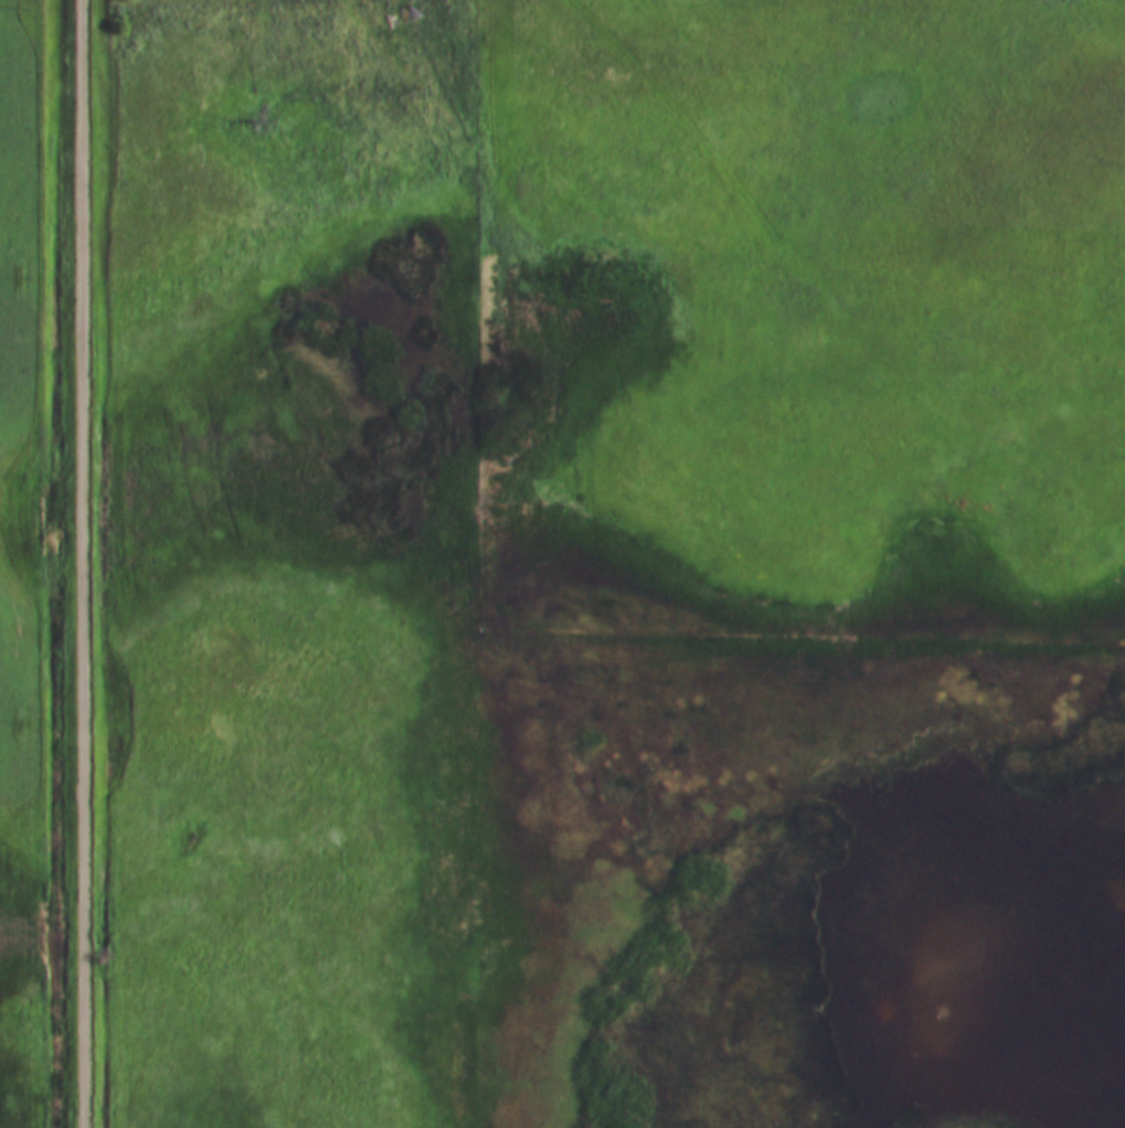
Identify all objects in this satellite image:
road: (81, 564)

